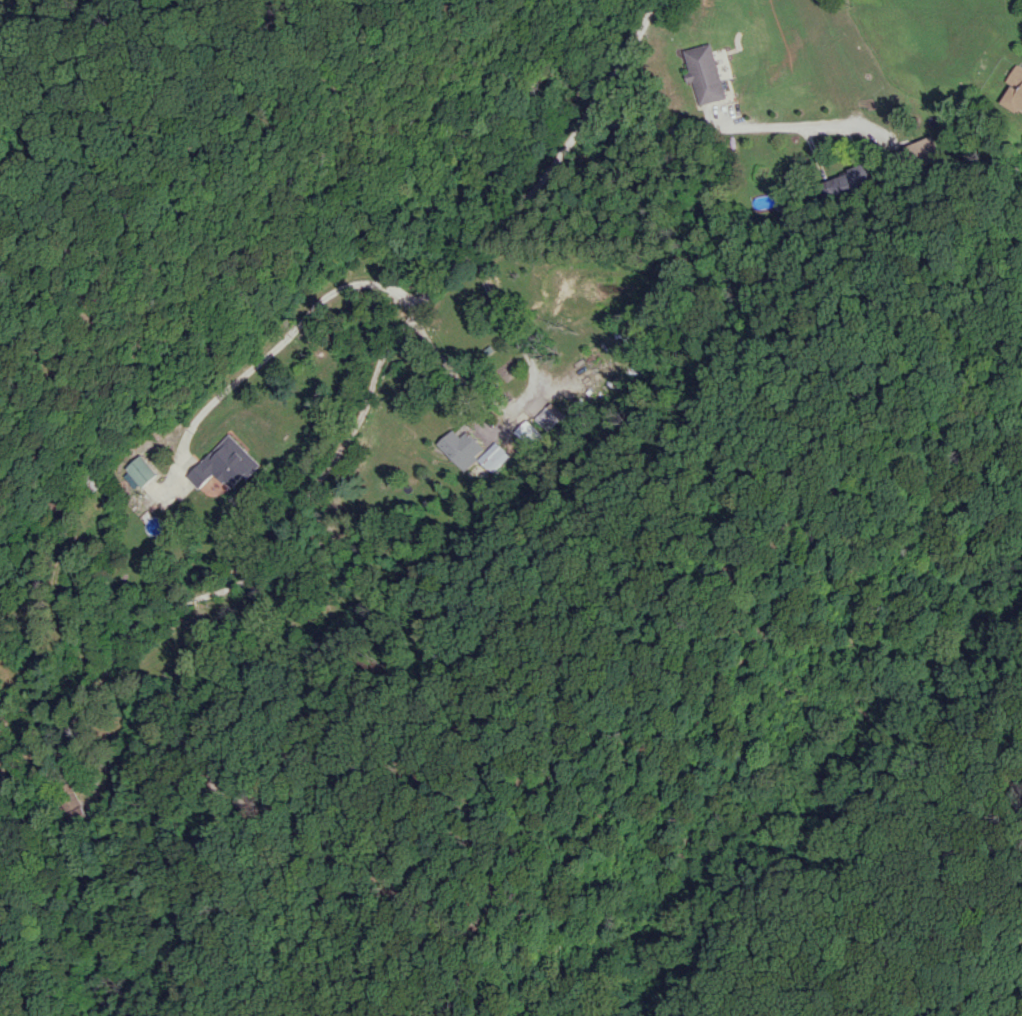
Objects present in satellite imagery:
building: (702, 73)
building: (1014, 90)
road: (711, 128)
building: (918, 151)
road: (547, 173)
road: (270, 350)
road: (521, 389)
building: (541, 416)
building: (520, 431)
building: (458, 447)
building: (487, 456)
building: (227, 464)
building: (139, 472)
road: (302, 513)

